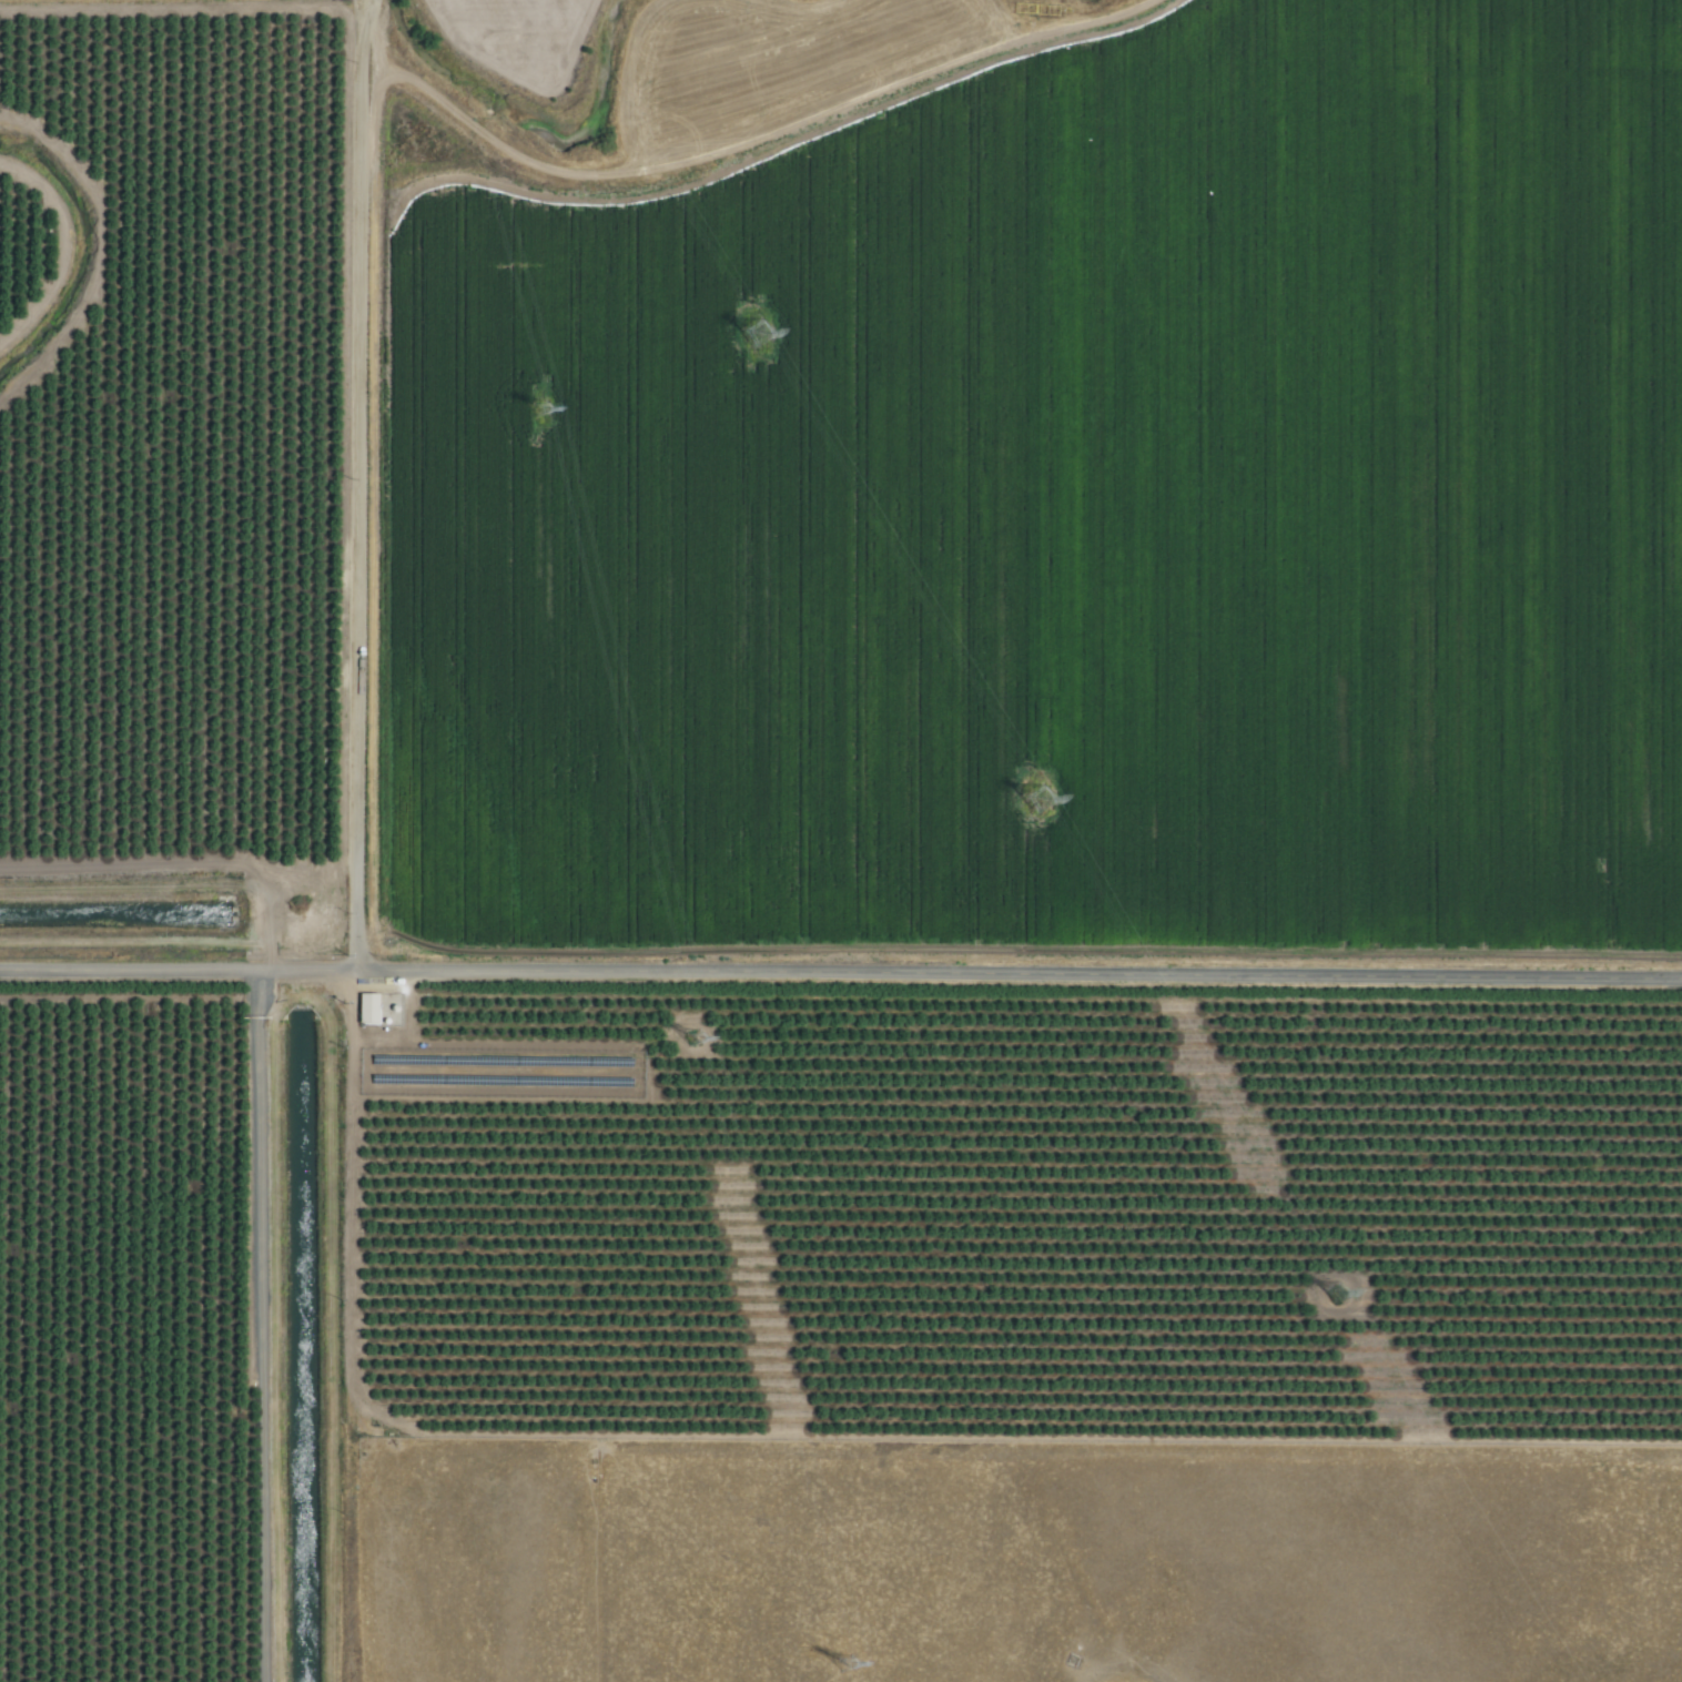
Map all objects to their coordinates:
power tower: (756, 334)
power tower: (537, 411)
road: (355, 485)
power tower: (1034, 802)
road: (841, 974)
power tower: (691, 1040)
power tower: (1333, 1295)
power tower: (842, 1666)

